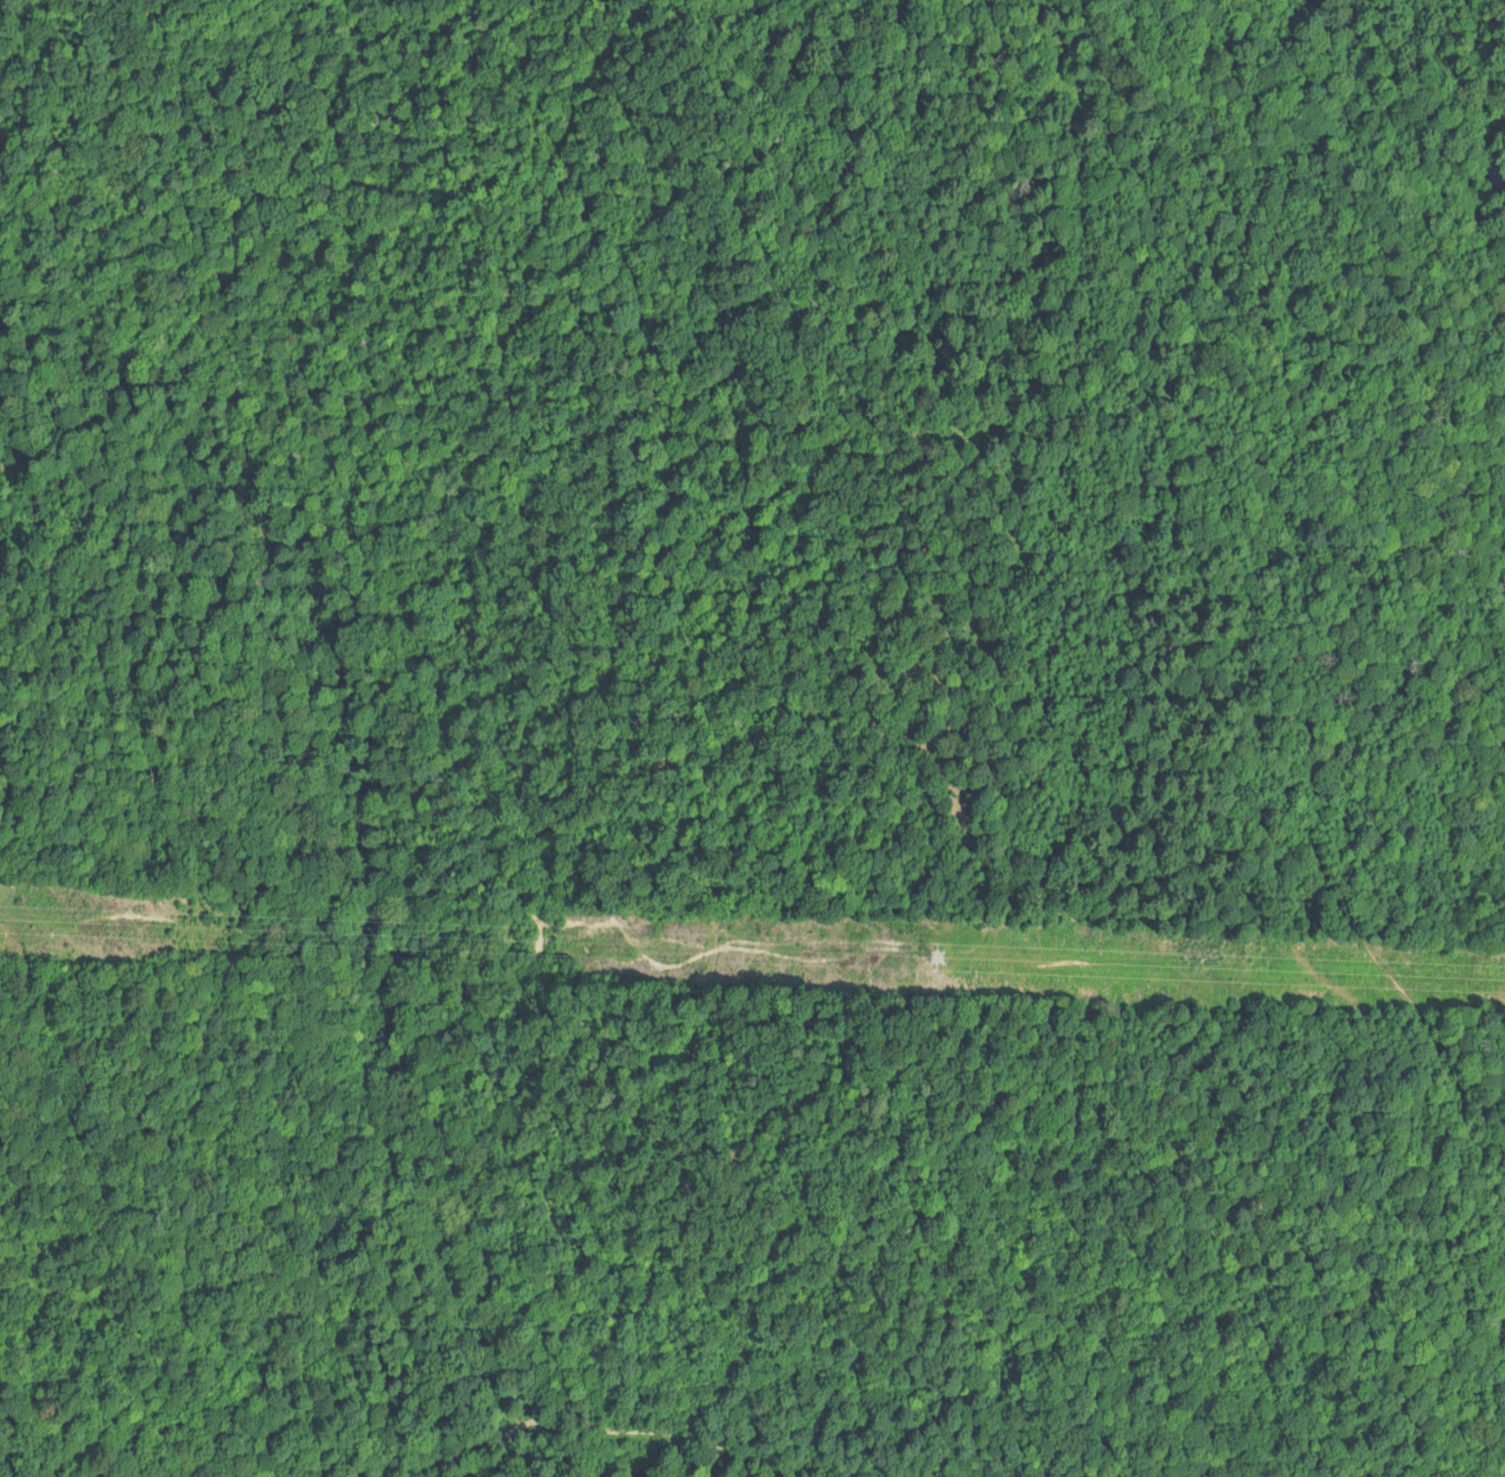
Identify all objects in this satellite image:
road: (644, 1425)

